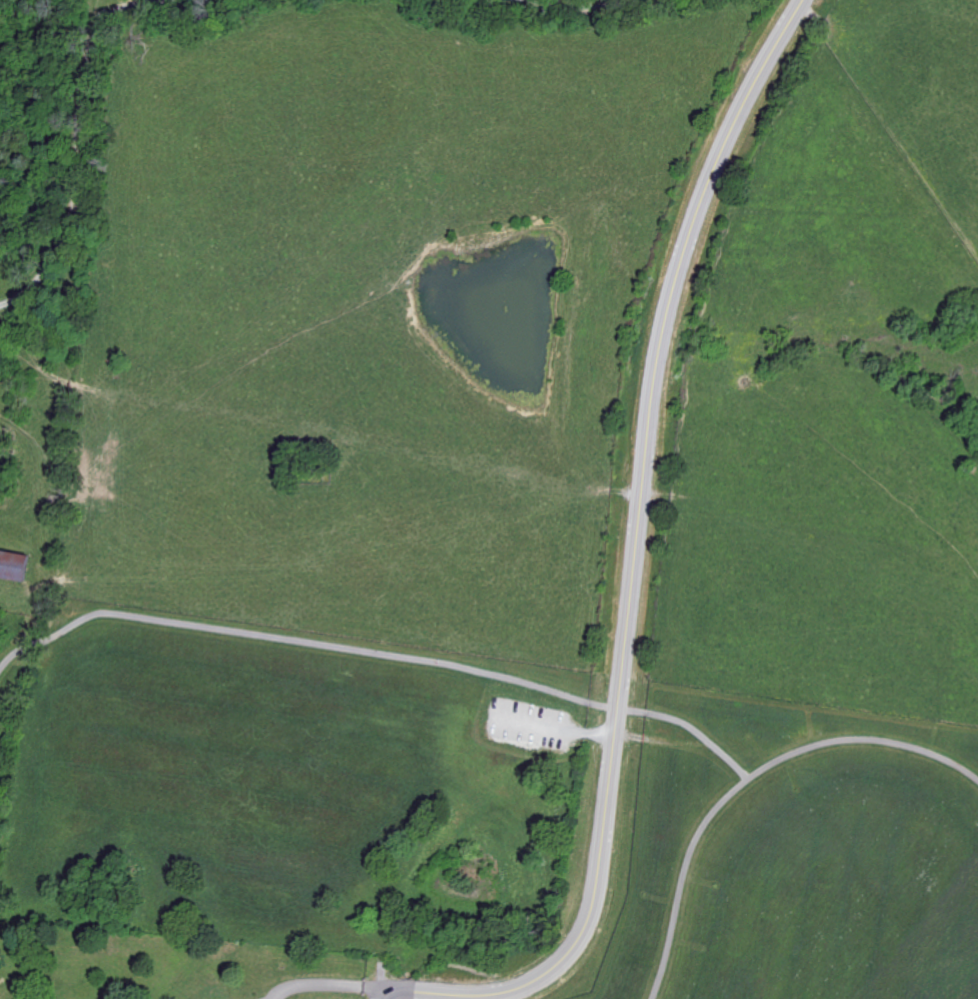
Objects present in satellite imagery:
road: (584, 5)
road: (77, 137)
building: (13, 565)
road: (634, 566)
road: (378, 652)
parking lot: (528, 724)
road: (556, 728)
road: (748, 776)
park: (477, 814)
park: (169, 967)
road: (327, 984)
road: (380, 993)

